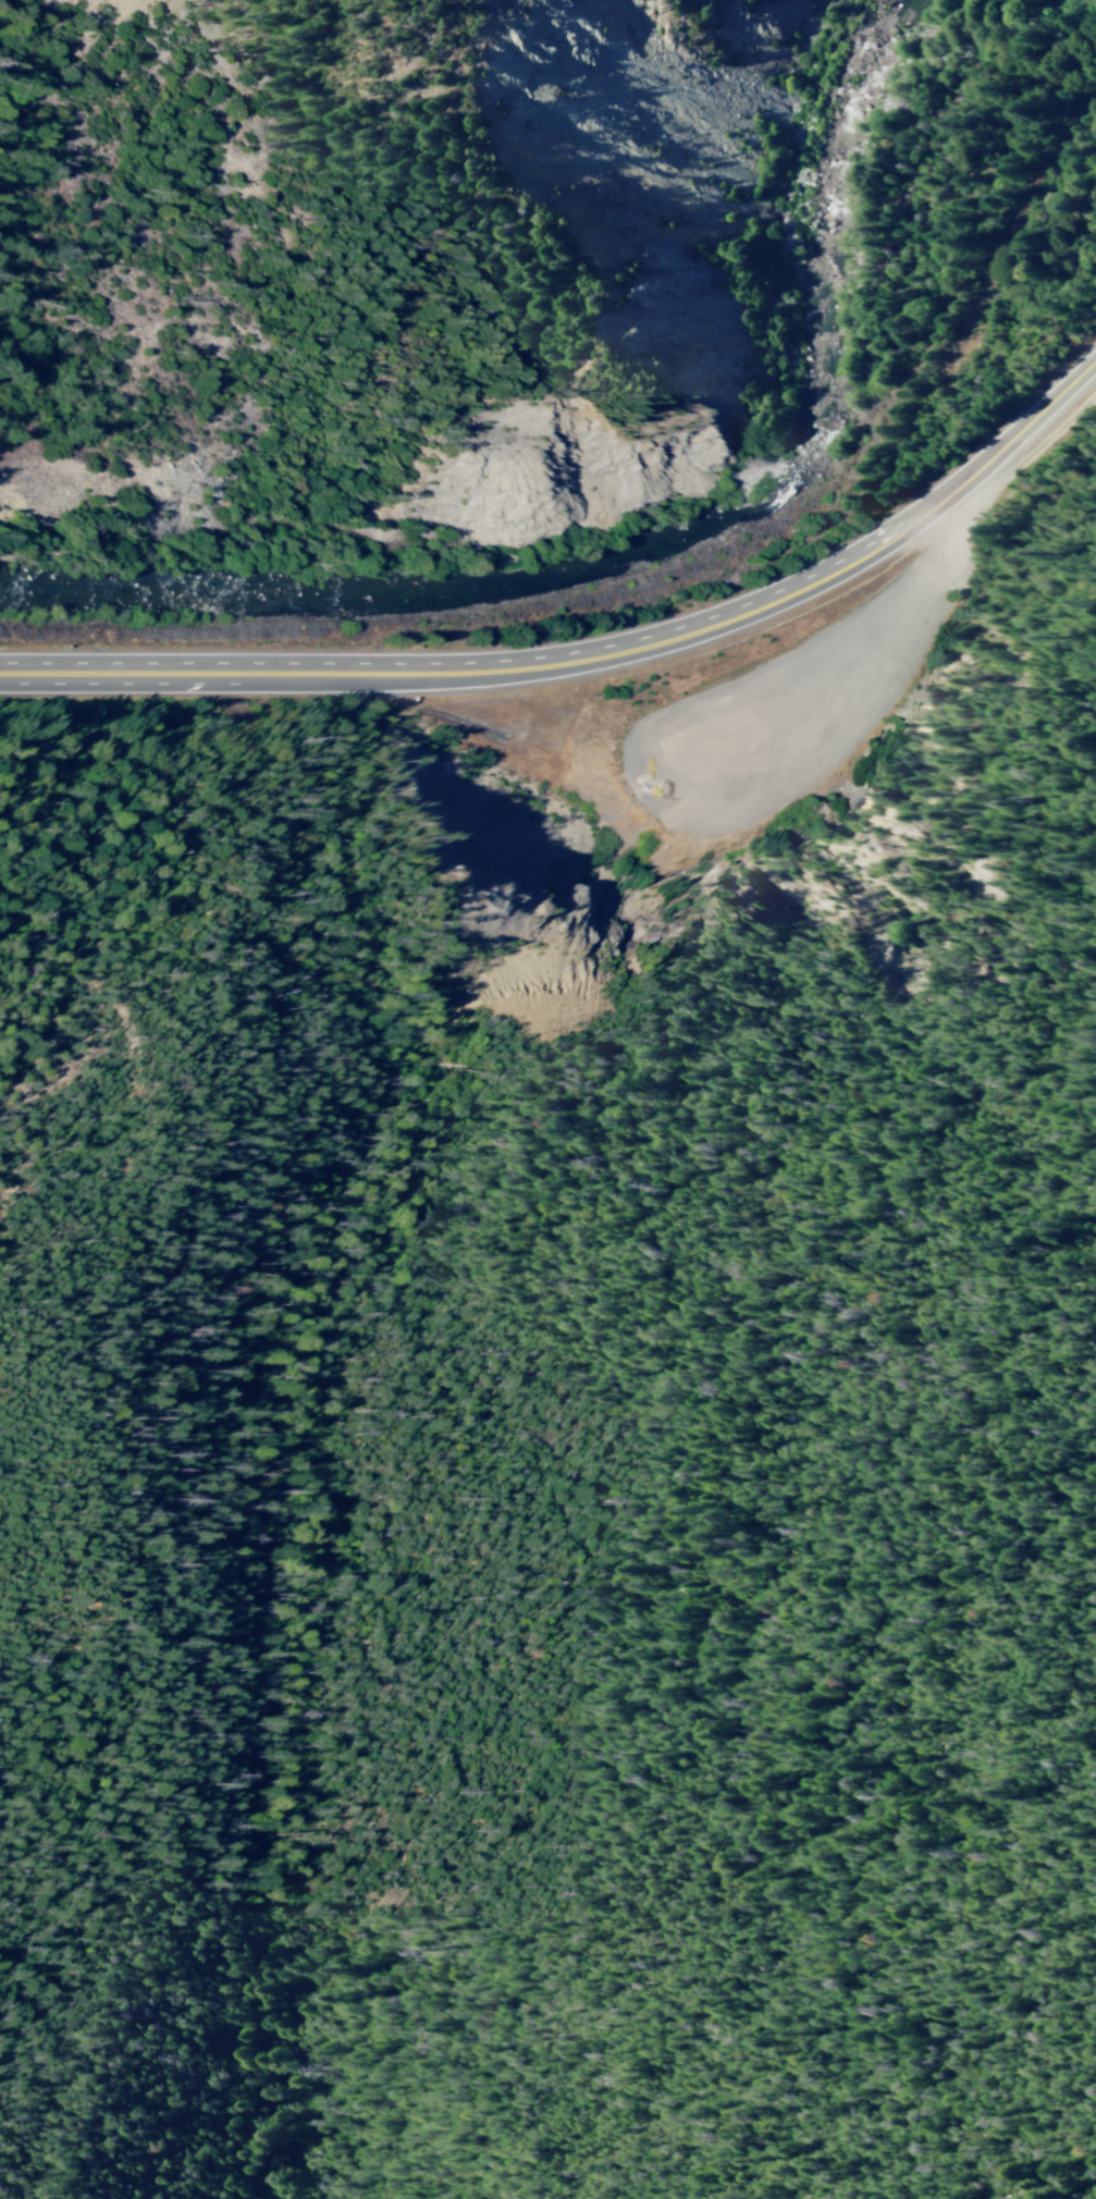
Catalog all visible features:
river: (876, 127)
road: (1051, 401)
river: (775, 469)
river: (513, 575)
river: (359, 592)
river: (131, 597)
road: (670, 634)
road: (141, 671)
road: (851, 684)
parking lot: (791, 708)

